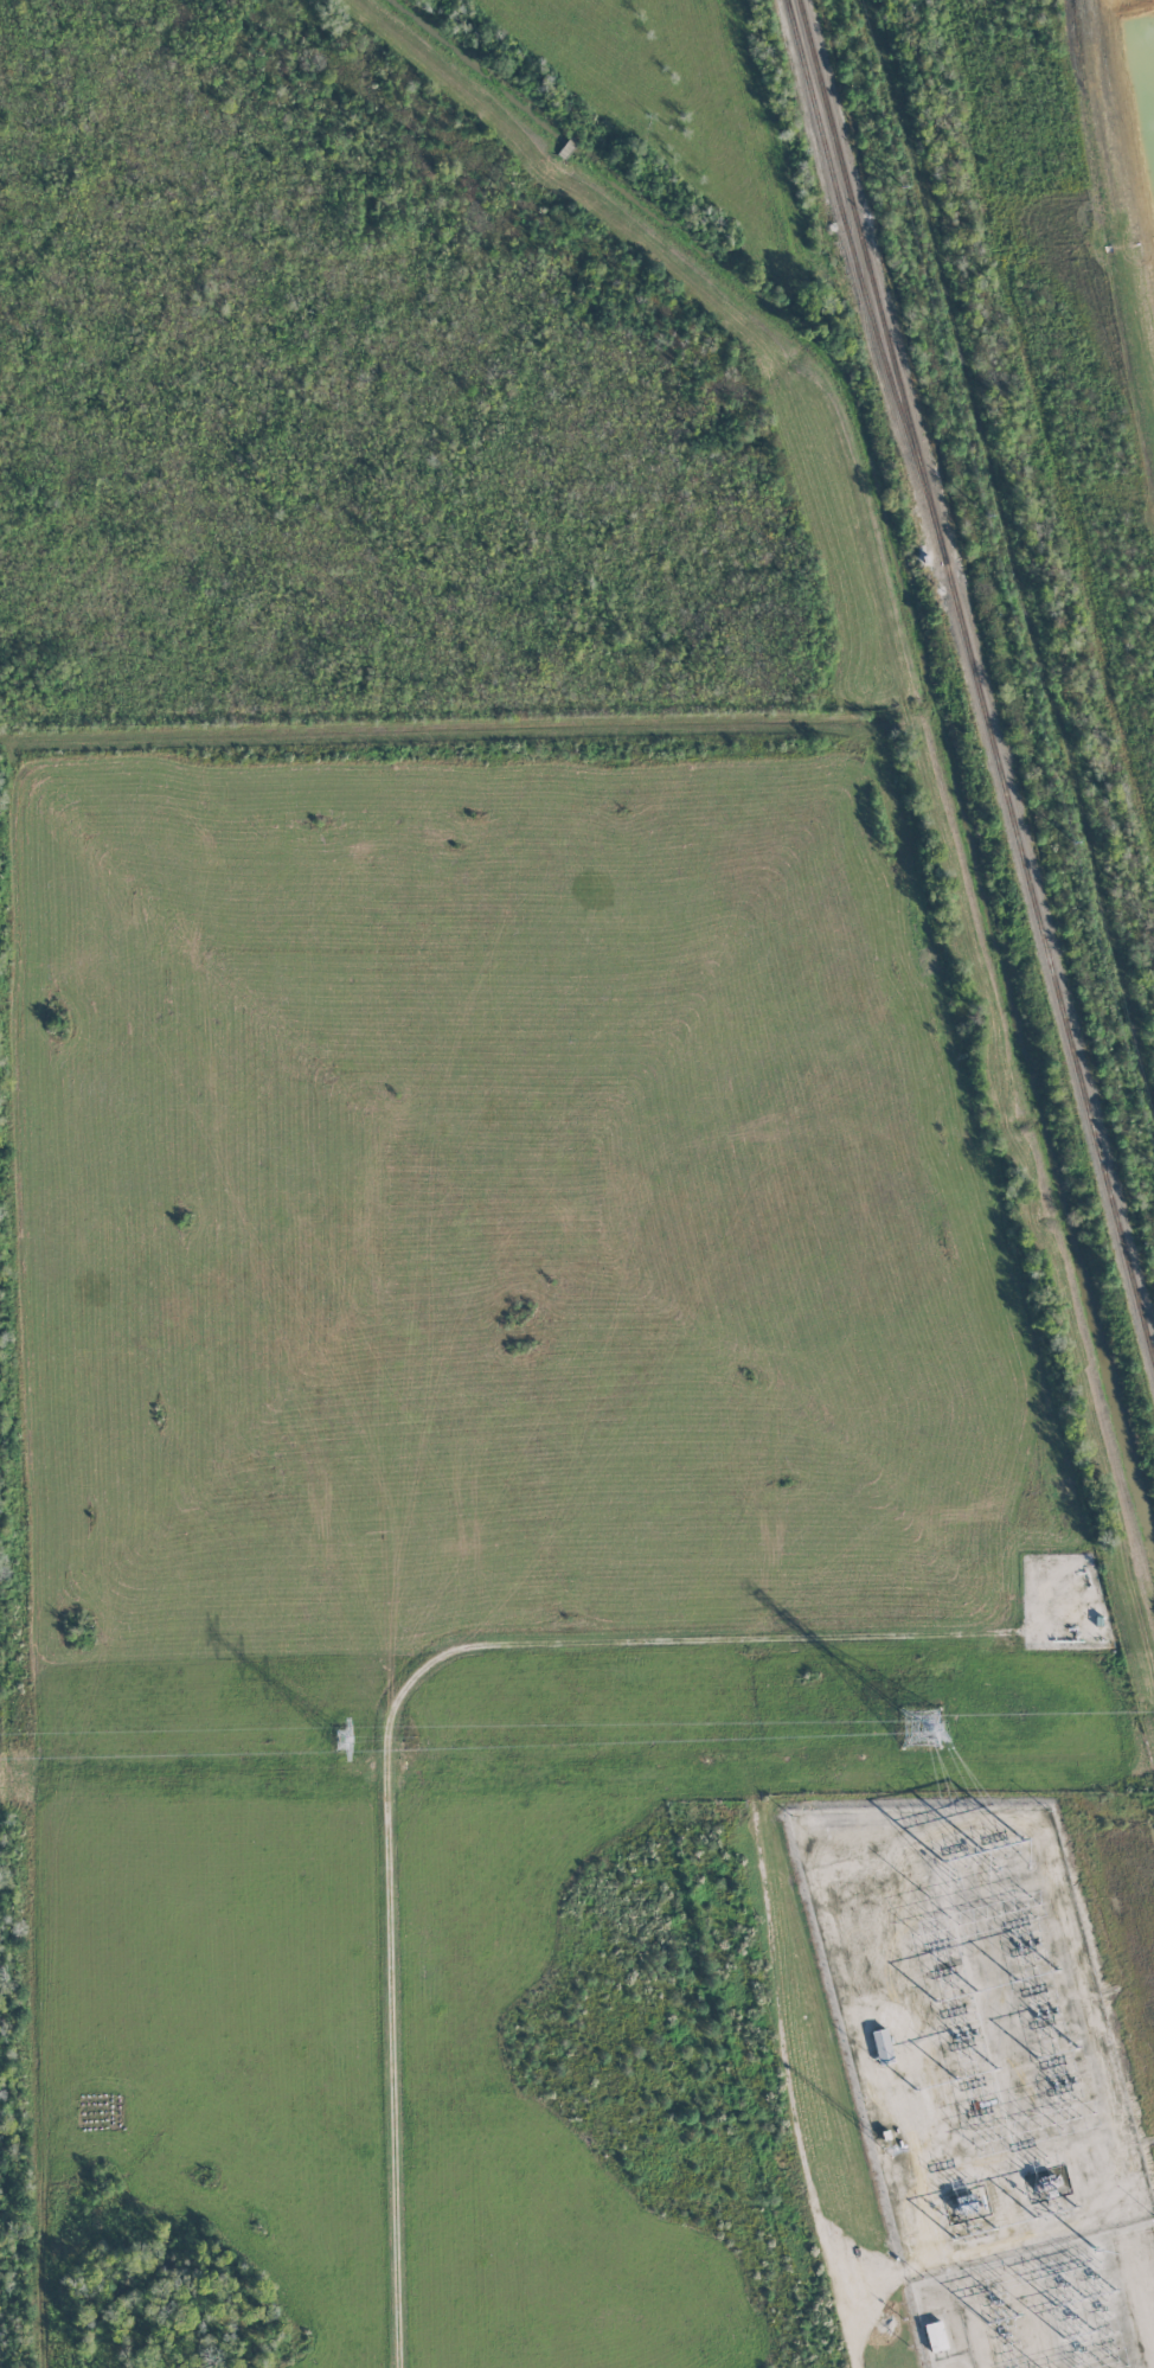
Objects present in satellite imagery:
power tower: (899, 178)
railway: (848, 237)
power tower: (985, 506)
railway: (976, 686)
power tower: (1069, 827)
power tower: (1153, 1159)
road: (391, 1713)
power tower: (919, 1728)
power tower: (340, 1741)
power substation: (970, 2029)
building: (883, 2046)
power tower: (1094, 2251)
power substation: (1047, 2306)
building: (935, 2336)

